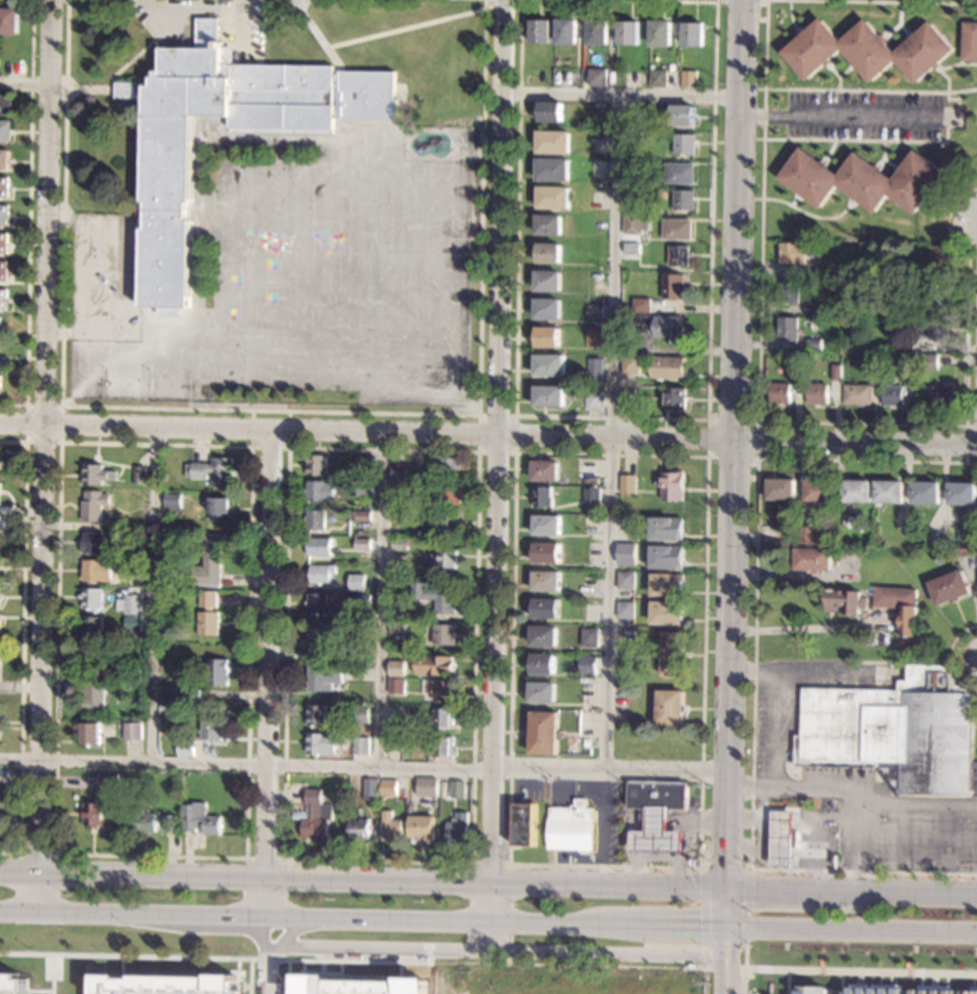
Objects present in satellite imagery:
road: (642, 1)
road: (716, 1)
road: (247, 6)
road: (216, 11)
building: (8, 20)
road: (160, 22)
parking lot: (170, 28)
road: (405, 29)
building: (539, 31)
building: (565, 32)
building: (597, 32)
building: (628, 32)
building: (659, 33)
road: (317, 34)
building: (692, 34)
building: (969, 41)
building: (869, 50)
building: (651, 62)
building: (652, 67)
road: (117, 73)
building: (596, 77)
building: (657, 78)
building: (687, 79)
road: (24, 83)
road: (870, 91)
road: (622, 94)
building: (4, 104)
building: (550, 112)
building: (681, 115)
parking lot: (864, 115)
road: (837, 117)
building: (4, 130)
building: (631, 137)
road: (923, 141)
building: (553, 142)
building: (683, 143)
building: (3, 159)
building: (167, 167)
building: (552, 169)
building: (678, 173)
building: (865, 180)
building: (3, 187)
building: (553, 197)
building: (633, 198)
building: (682, 199)
road: (943, 200)
road: (811, 214)
building: (3, 215)
road: (28, 216)
building: (632, 224)
building: (548, 225)
building: (676, 229)
road: (973, 241)
building: (2, 242)
building: (631, 248)
building: (793, 252)
building: (547, 253)
building: (677, 255)
building: (939, 256)
building: (2, 270)
building: (839, 272)
building: (911, 273)
building: (813, 274)
road: (91, 279)
road: (127, 279)
building: (547, 281)
building: (673, 286)
building: (788, 292)
building: (939, 295)
building: (2, 298)
building: (640, 305)
building: (547, 309)
building: (813, 309)
building: (907, 310)
building: (593, 312)
building: (0, 321)
building: (658, 326)
building: (788, 329)
building: (1, 330)
building: (938, 330)
building: (593, 336)
building: (546, 337)
road: (759, 342)
building: (814, 344)
building: (904, 345)
building: (929, 361)
building: (630, 364)
building: (549, 365)
building: (797, 365)
building: (667, 368)
building: (594, 369)
building: (836, 371)
building: (909, 373)
building: (0, 375)
park: (126, 383)
building: (781, 393)
building: (817, 394)
building: (858, 395)
building: (893, 395)
building: (548, 396)
building: (940, 396)
building: (673, 399)
building: (593, 400)
building: (625, 400)
road: (273, 411)
road: (611, 417)
road: (707, 420)
road: (611, 432)
road: (488, 438)
road: (965, 438)
road: (25, 442)
road: (269, 448)
road: (477, 453)
road: (515, 454)
road: (46, 456)
building: (0, 457)
building: (364, 464)
building: (316, 465)
building: (447, 468)
building: (212, 471)
building: (545, 471)
building: (398, 473)
building: (96, 474)
building: (138, 475)
road: (496, 475)
building: (627, 484)
building: (669, 485)
building: (399, 489)
building: (781, 489)
building: (364, 490)
building: (819, 490)
building: (0, 491)
building: (320, 491)
building: (856, 491)
building: (888, 492)
building: (925, 492)
building: (962, 493)
building: (448, 494)
building: (591, 494)
building: (142, 495)
road: (733, 496)
building: (541, 497)
building: (171, 500)
building: (93, 505)
building: (219, 509)
building: (358, 516)
building: (398, 516)
building: (314, 520)
building: (444, 521)
building: (546, 525)
building: (666, 528)
building: (580, 530)
building: (107, 534)
building: (806, 535)
building: (91, 542)
building: (362, 544)
building: (398, 544)
building: (318, 546)
building: (545, 553)
building: (625, 553)
building: (443, 557)
building: (666, 557)
building: (812, 559)
building: (209, 561)
building: (95, 569)
building: (320, 573)
building: (624, 580)
building: (545, 581)
building: (356, 583)
building: (589, 585)
building: (667, 585)
building: (949, 587)
building: (436, 595)
building: (92, 597)
road: (157, 597)
building: (361, 600)
road: (384, 602)
building: (844, 602)
building: (129, 604)
building: (316, 604)
building: (899, 605)
building: (544, 609)
building: (623, 609)
building: (667, 612)
building: (207, 614)
building: (131, 623)
building: (0, 624)
building: (92, 626)
building: (397, 627)
road: (809, 630)
building: (320, 633)
building: (438, 634)
building: (135, 636)
building: (543, 636)
building: (588, 637)
road: (21, 644)
building: (353, 652)
building: (673, 654)
road: (948, 657)
building: (542, 664)
building: (587, 664)
building: (435, 665)
road: (753, 667)
building: (396, 668)
building: (217, 671)
road: (268, 674)
road: (754, 676)
building: (323, 677)
building: (94, 686)
building: (397, 686)
road: (778, 690)
building: (443, 691)
building: (542, 692)
building: (191, 694)
building: (670, 708)
building: (360, 714)
building: (316, 715)
building: (444, 718)
building: (212, 727)
building: (131, 731)
building: (90, 733)
building: (544, 733)
building: (895, 733)
building: (394, 743)
building: (316, 744)
building: (361, 746)
building: (442, 747)
building: (185, 748)
road: (364, 767)
building: (106, 781)
building: (416, 785)
building: (427, 786)
building: (388, 787)
building: (370, 789)
building: (457, 790)
road: (853, 794)
parking lot: (861, 798)
building: (375, 805)
building: (92, 814)
building: (657, 815)
building: (313, 817)
building: (199, 819)
building: (142, 821)
road: (832, 822)
building: (168, 823)
building: (524, 825)
building: (391, 827)
building: (571, 827)
building: (421, 828)
road: (603, 829)
building: (359, 830)
building: (457, 830)
road: (901, 836)
road: (944, 837)
building: (782, 839)
road: (860, 845)
road: (35, 853)
road: (244, 858)
road: (264, 860)
road: (701, 867)
road: (732, 869)
road: (488, 886)
traffic signals: (727, 890)
road: (488, 922)
traffic signals: (727, 926)
road: (378, 951)
road: (266, 954)
road: (608, 955)
road: (365, 961)
building: (692, 965)
road: (744, 969)
road: (860, 970)
road: (52, 974)
road: (786, 981)
road: (841, 982)
building: (12, 984)
building: (162, 984)
building: (361, 984)
building: (875, 988)
building: (809, 990)
building: (931, 990)
building: (971, 990)

